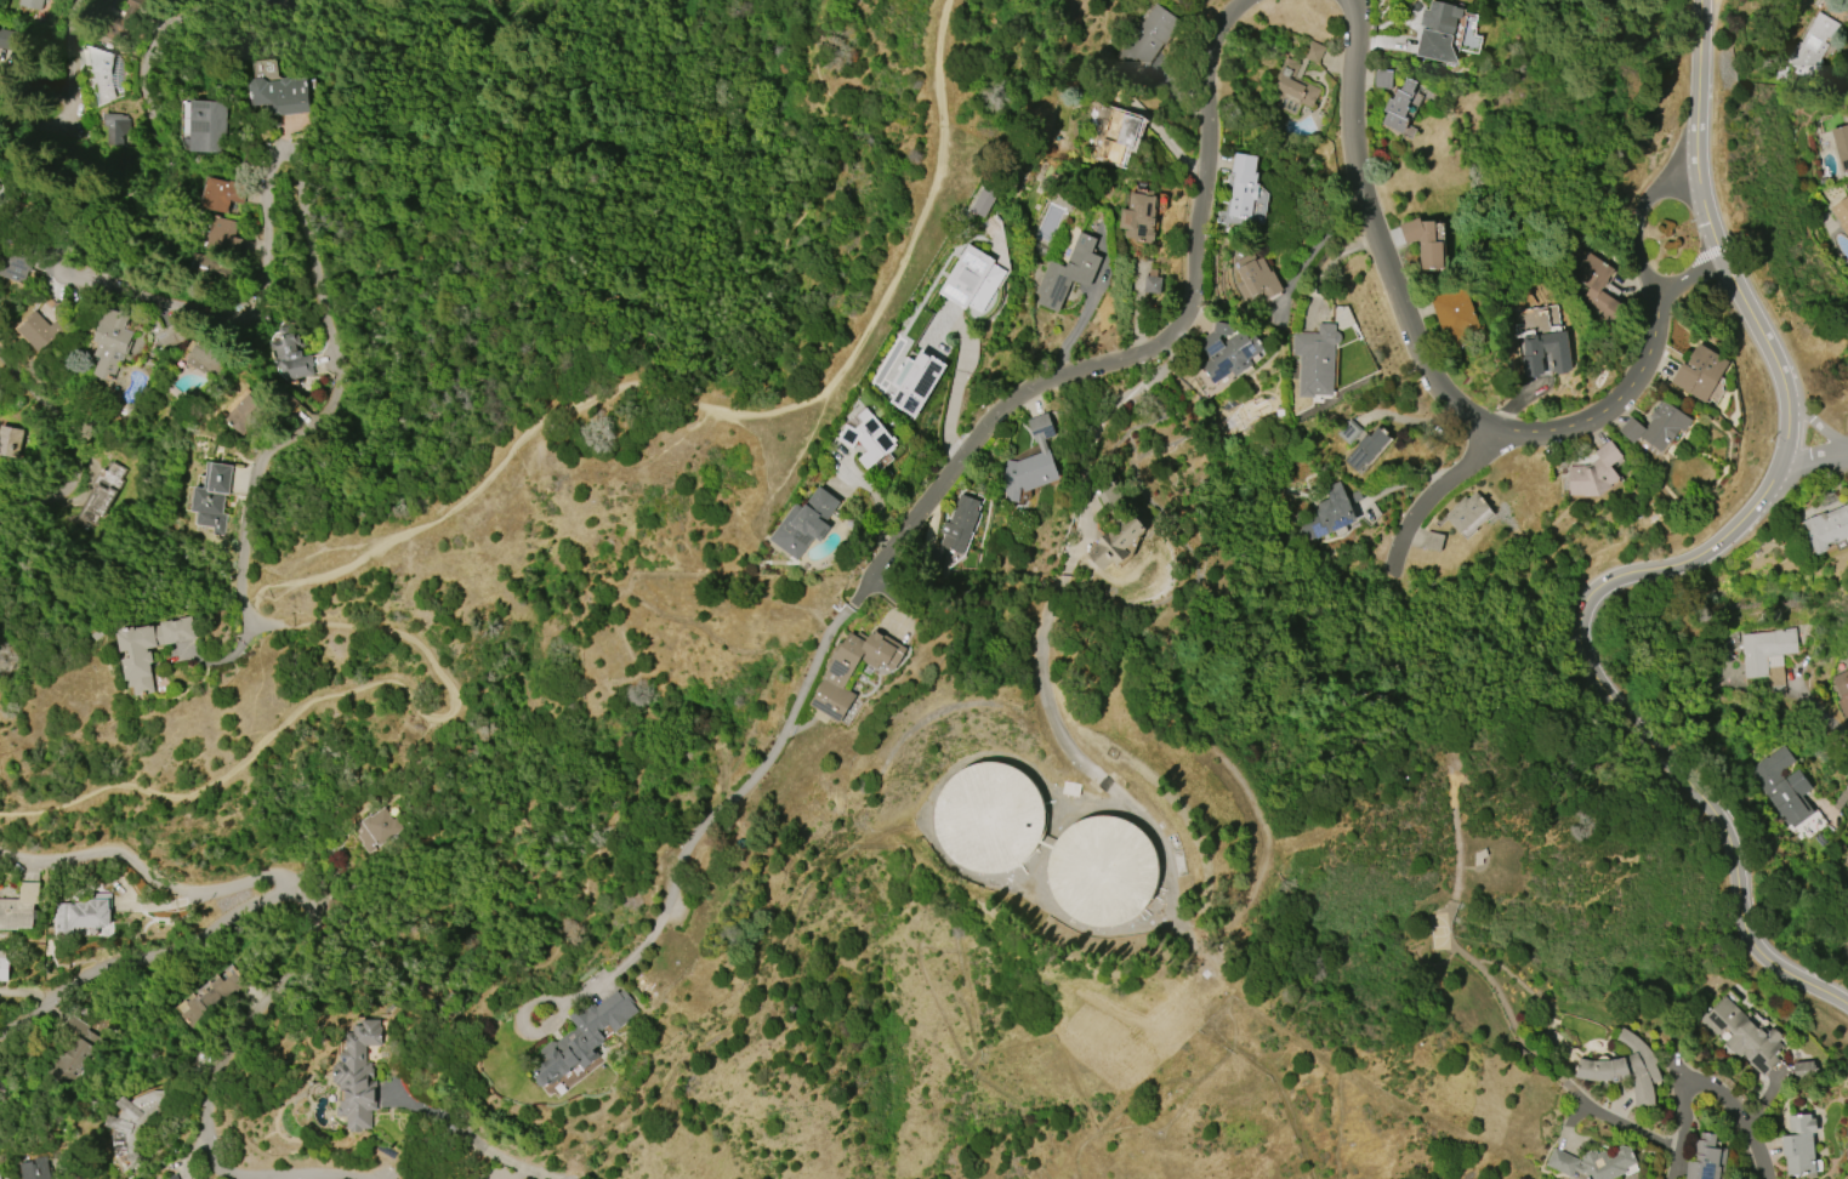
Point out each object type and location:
building: (29, 2)
building: (1437, 30)
building: (1147, 35)
building: (8, 39)
building: (1812, 46)
building: (102, 69)
building: (1382, 79)
building: (1296, 80)
road: (68, 93)
building: (279, 96)
building: (1398, 106)
building: (207, 126)
road: (1353, 133)
building: (1119, 136)
building: (1841, 142)
building: (0, 184)
building: (1243, 186)
building: (220, 194)
building: (1842, 213)
building: (1139, 216)
road: (1639, 220)
building: (221, 234)
building: (1425, 243)
road: (79, 247)
road: (766, 254)
road: (313, 262)
building: (21, 263)
building: (205, 263)
building: (1068, 273)
road: (1695, 274)
building: (1145, 277)
building: (1256, 277)
building: (972, 279)
building: (1596, 294)
building: (1454, 315)
building: (39, 331)
building: (110, 343)
building: (1228, 351)
building: (1535, 353)
building: (289, 355)
building: (1315, 359)
building: (203, 360)
building: (1699, 372)
building: (915, 381)
road: (956, 391)
building: (243, 411)
road: (1819, 425)
building: (1656, 426)
road: (1516, 434)
building: (869, 439)
building: (8, 442)
road: (62, 444)
building: (1367, 448)
road: (1816, 458)
building: (1031, 462)
building: (1594, 473)
road: (256, 474)
building: (97, 492)
road: (1432, 494)
building: (212, 496)
road: (929, 496)
building: (1467, 512)
building: (1329, 513)
building: (804, 523)
building: (961, 524)
building: (1824, 530)
road: (394, 537)
building: (1433, 541)
building: (1116, 543)
road: (1706, 559)
road: (1048, 617)
building: (138, 654)
building: (1767, 656)
building: (852, 670)
building: (1842, 691)
road: (1818, 717)
building: (1782, 786)
building: (989, 818)
building: (379, 830)
building: (1103, 870)
building: (19, 907)
building: (83, 915)
road: (313, 915)
road: (119, 959)
building: (4, 966)
road: (449, 972)
building: (210, 995)
road: (757, 1012)
building: (584, 1036)
building: (1744, 1036)
building: (1625, 1069)
building: (1803, 1069)
road: (4, 1073)
building: (358, 1077)
road: (1739, 1112)
building: (135, 1123)
building: (1798, 1144)
building: (1704, 1158)
building: (1592, 1163)
building: (36, 1169)
building: (172, 1177)
building: (0, 1178)

